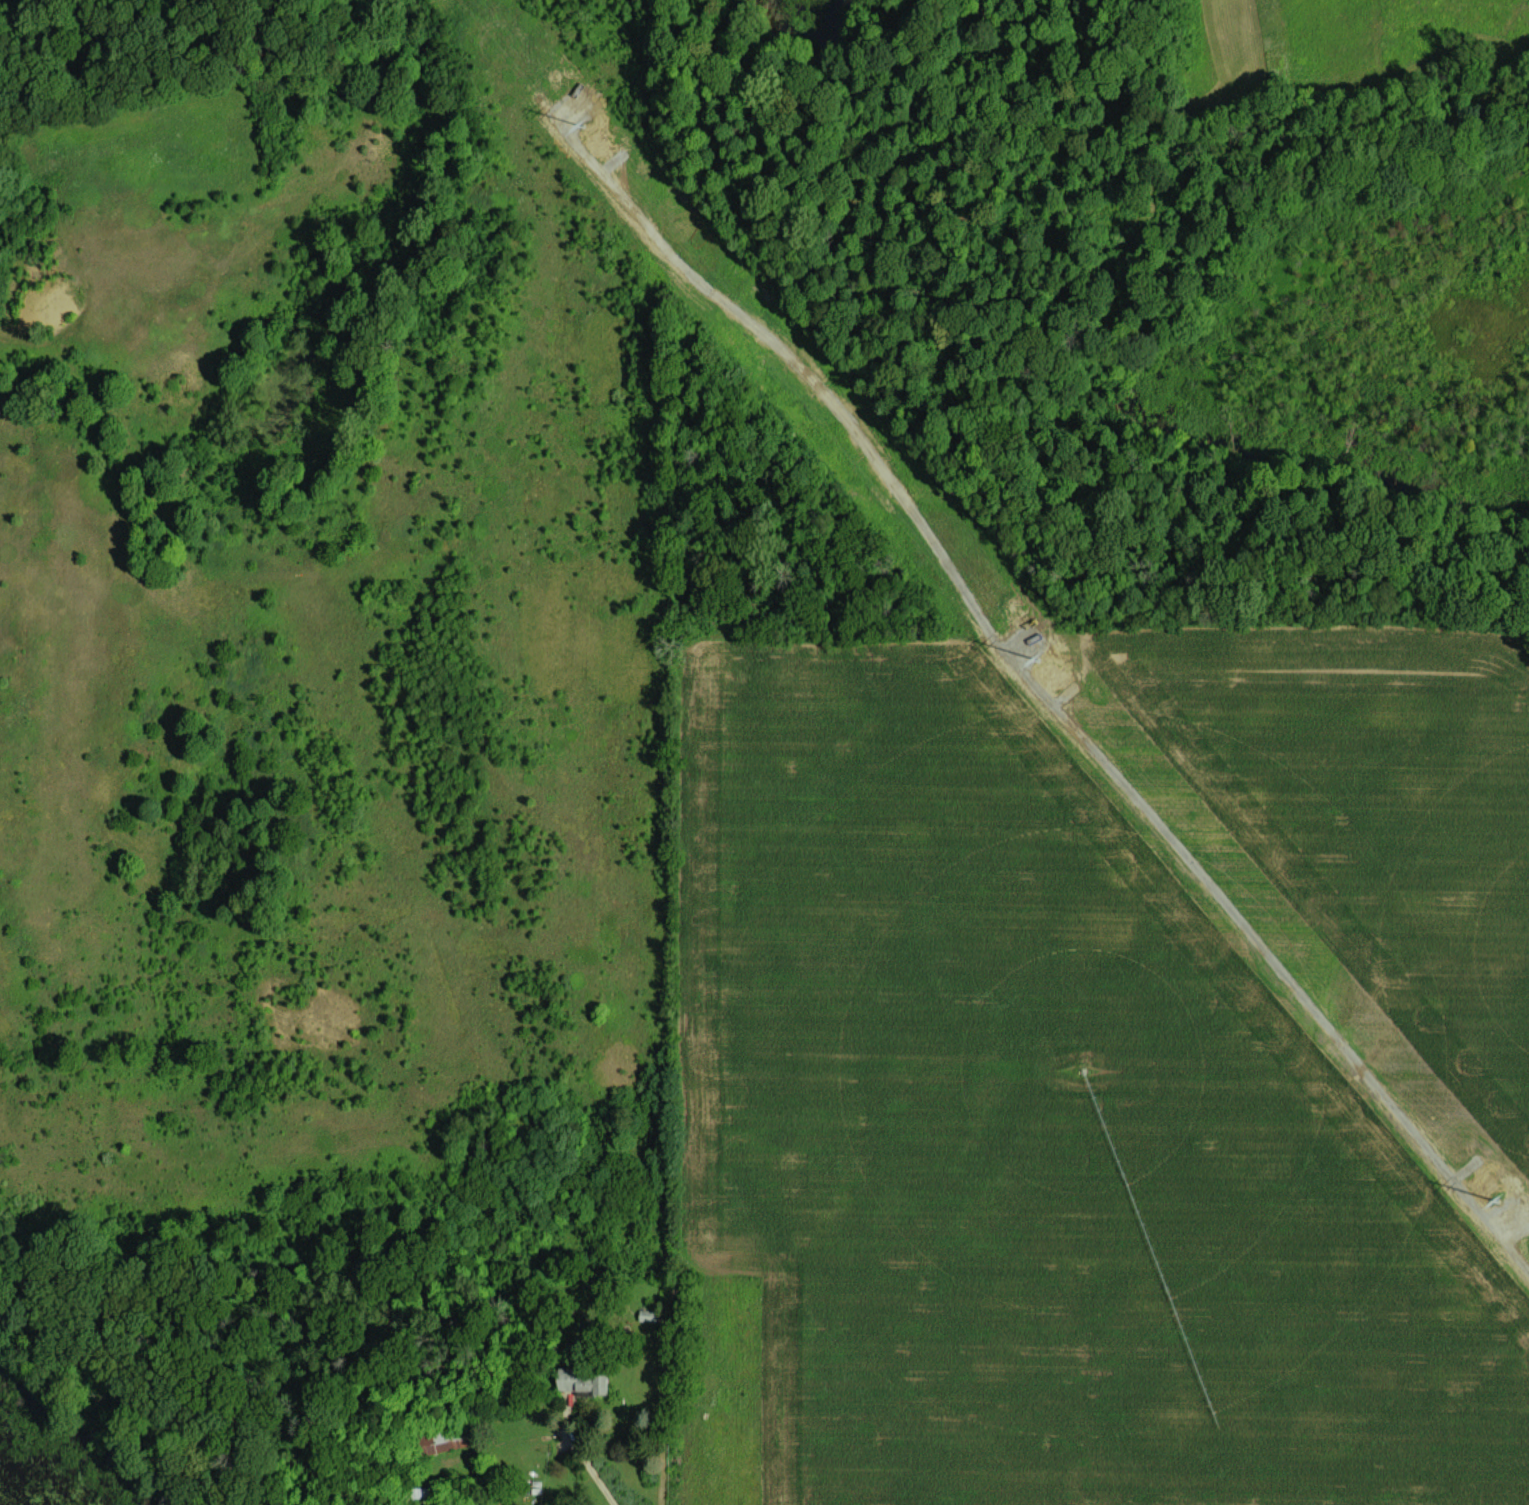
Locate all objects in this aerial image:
power tower: (599, 130)
power tower: (1055, 666)
power tower: (1491, 1168)
building: (646, 1316)
building: (578, 1382)
building: (440, 1436)
road: (591, 1471)
building: (424, 1496)

